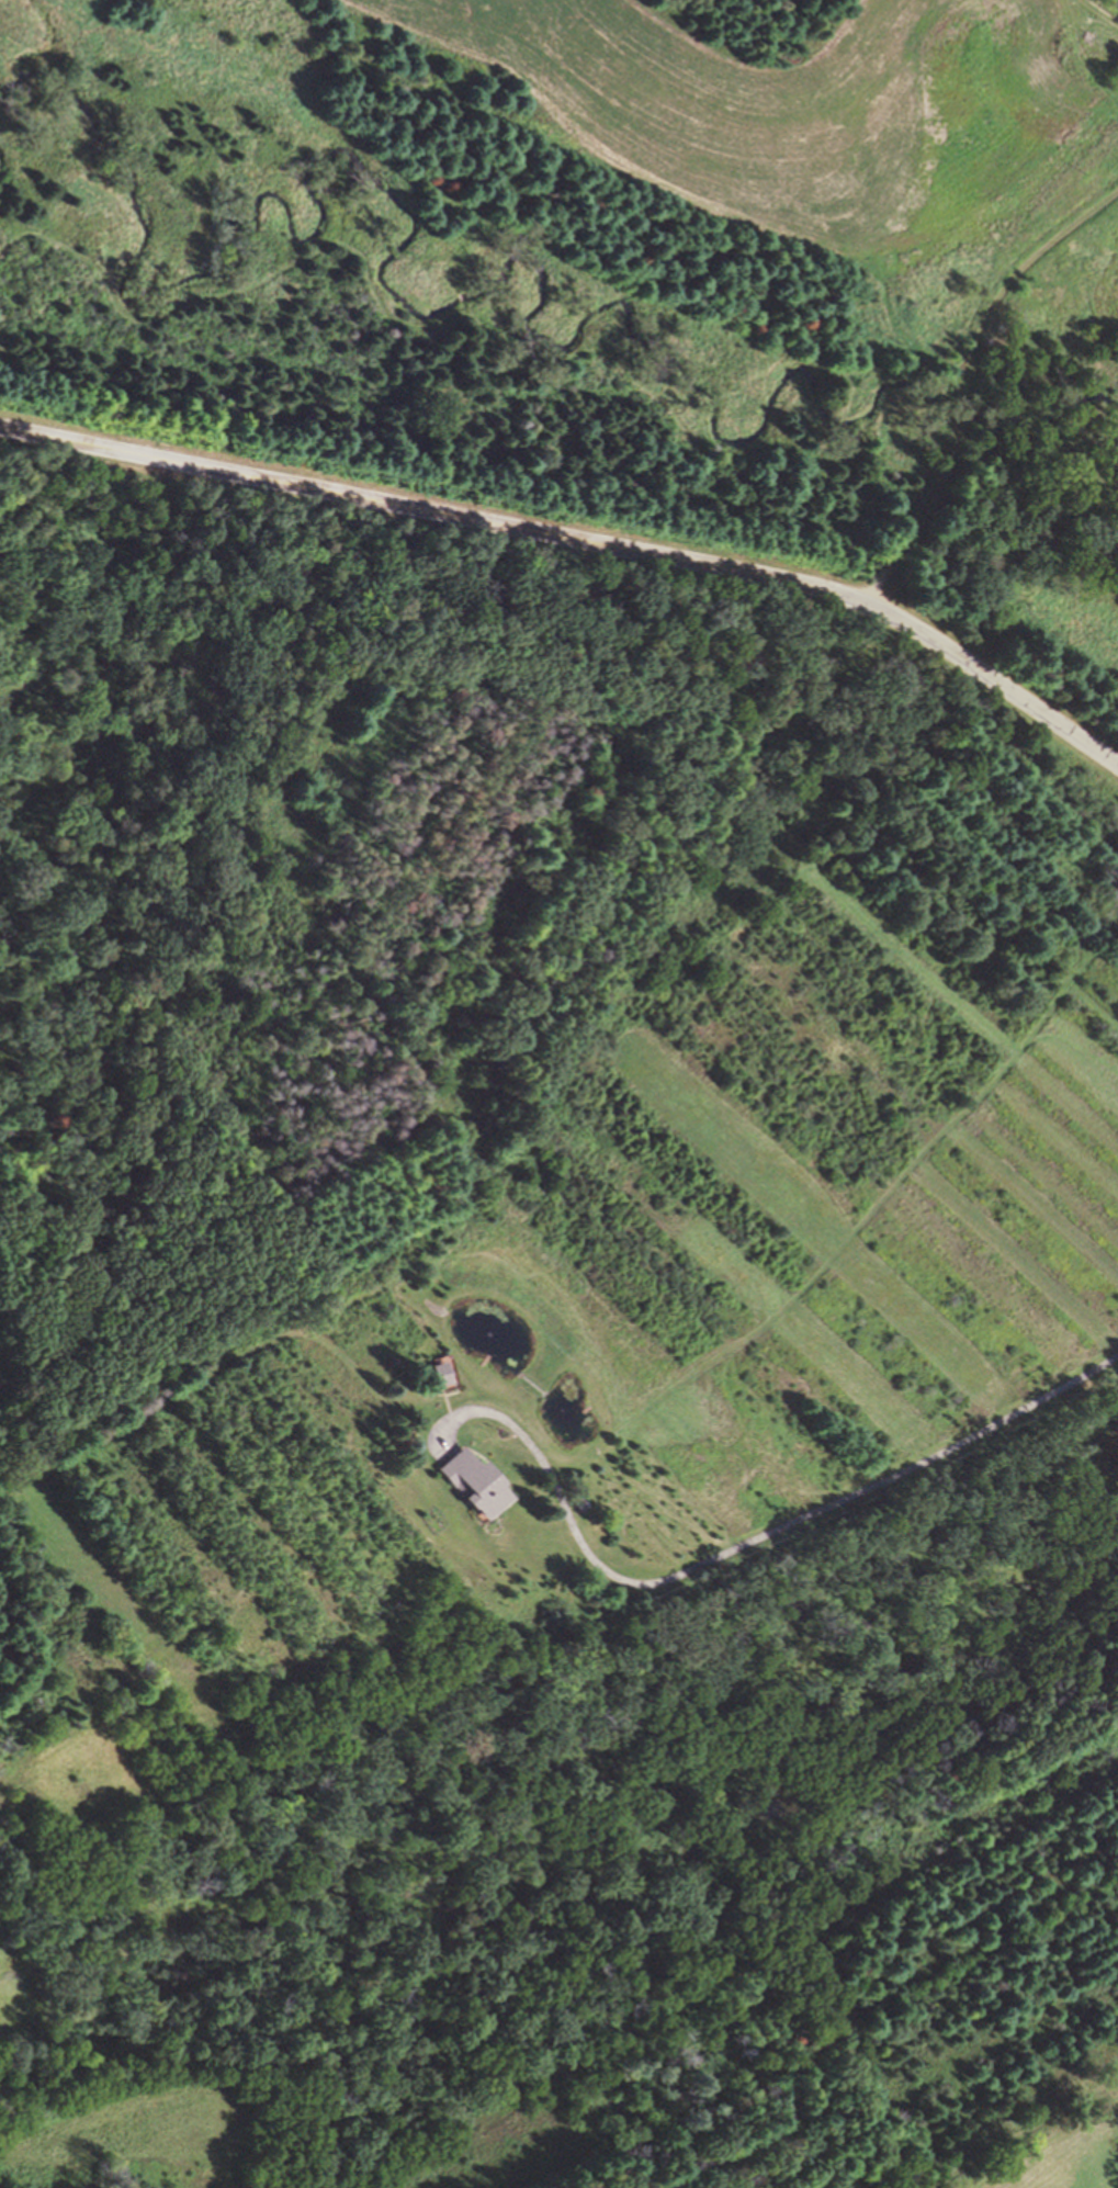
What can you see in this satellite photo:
road: (1102, 11)
road: (456, 296)
road: (963, 377)
road: (778, 386)
river: (957, 401)
river: (1047, 418)
road: (499, 527)
road: (1050, 718)
building: (443, 1372)
building: (467, 1485)
road: (746, 1546)

